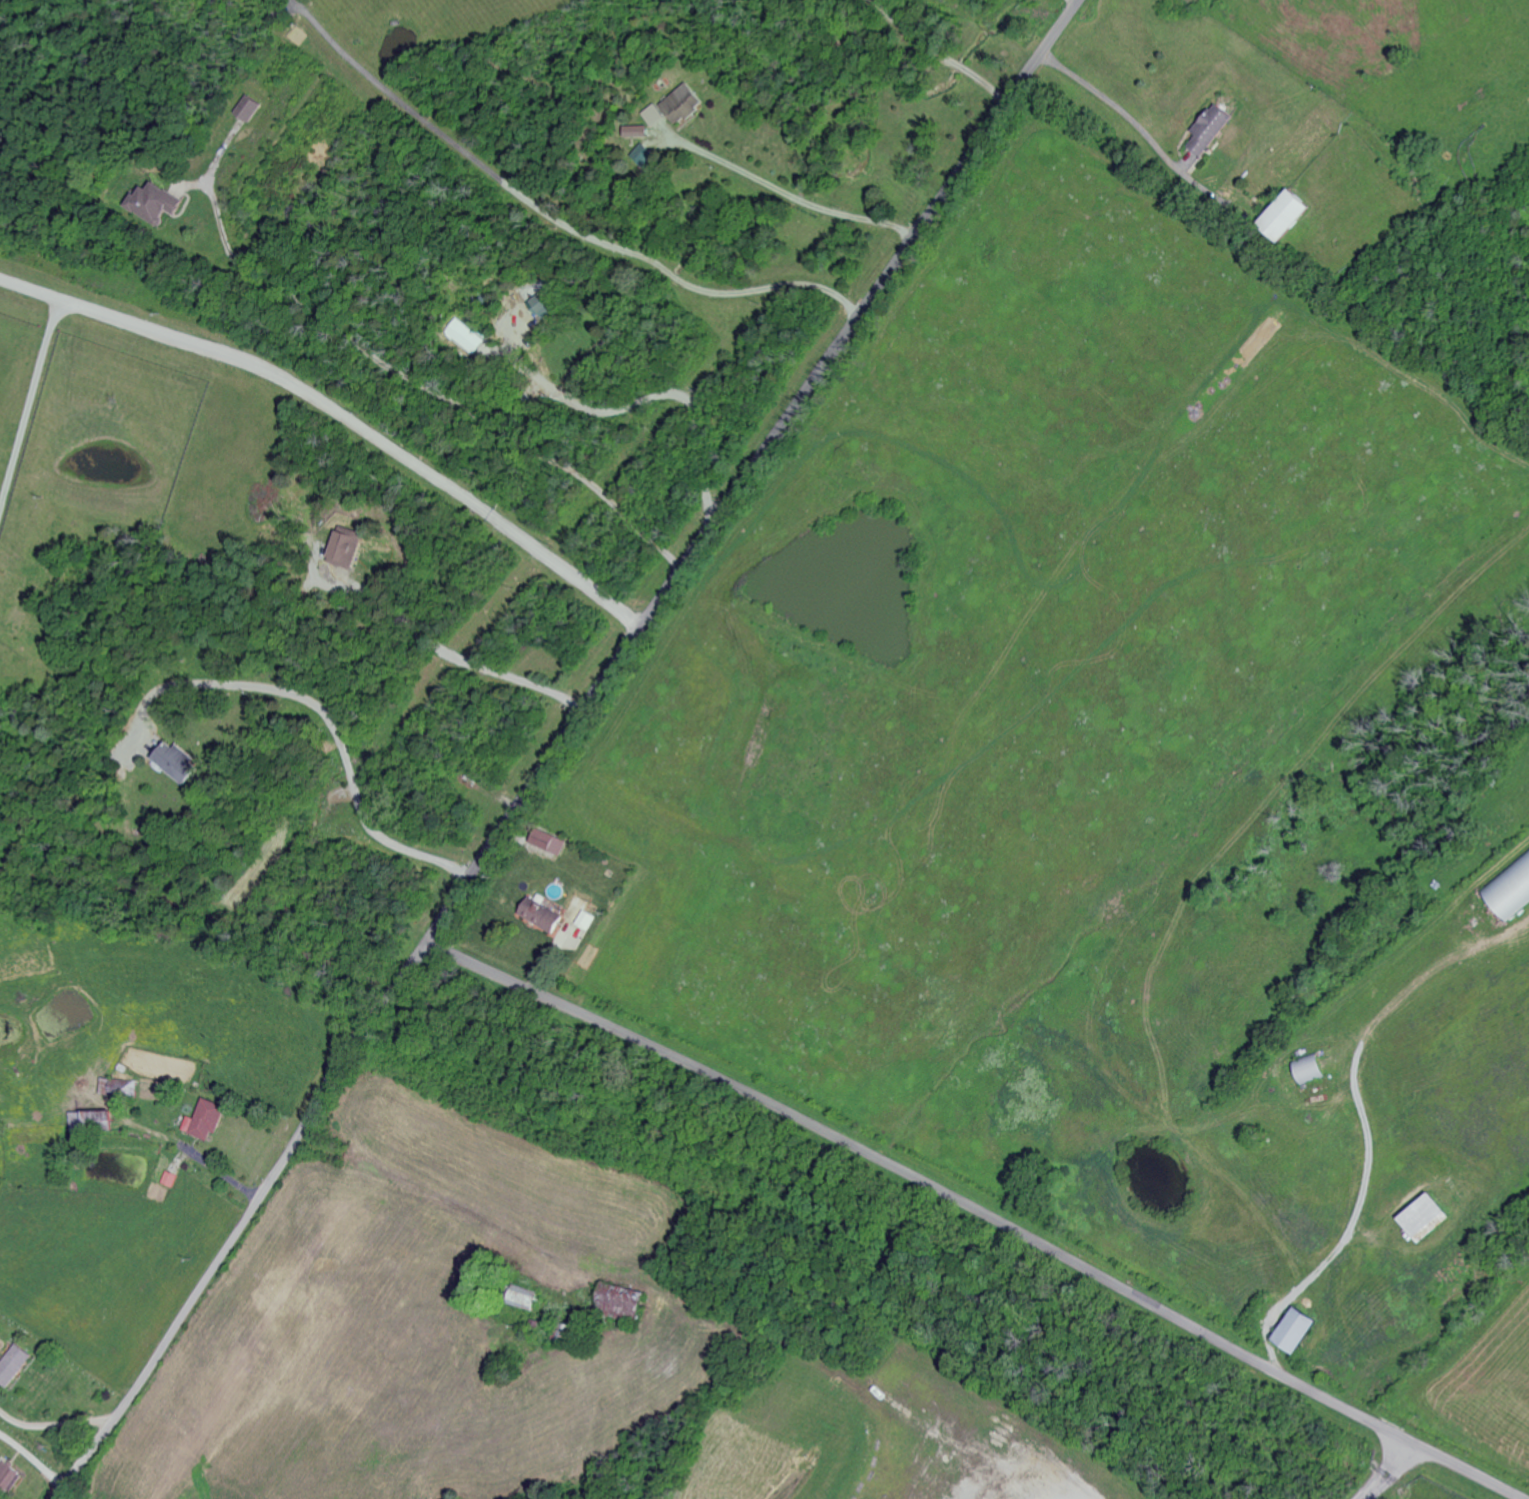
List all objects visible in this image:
road: (1076, 1)
road: (940, 51)
building: (683, 104)
building: (655, 116)
road: (1134, 119)
building: (1213, 130)
building: (637, 132)
road: (796, 198)
building: (157, 204)
building: (1288, 217)
road: (552, 220)
building: (547, 303)
building: (466, 336)
road: (416, 382)
road: (645, 397)
road: (30, 404)
road: (341, 413)
building: (347, 549)
road: (456, 659)
road: (327, 719)
road: (560, 743)
building: (179, 762)
building: (550, 842)
building: (542, 915)
building: (585, 920)
building: (1312, 1068)
building: (124, 1090)
building: (207, 1120)
building: (170, 1179)
road: (448, 1202)
road: (980, 1211)
building: (624, 1302)
building: (1300, 1330)
building: (14, 1366)
road: (54, 1426)
road: (1388, 1470)
building: (9, 1480)
road: (1069, 1487)

